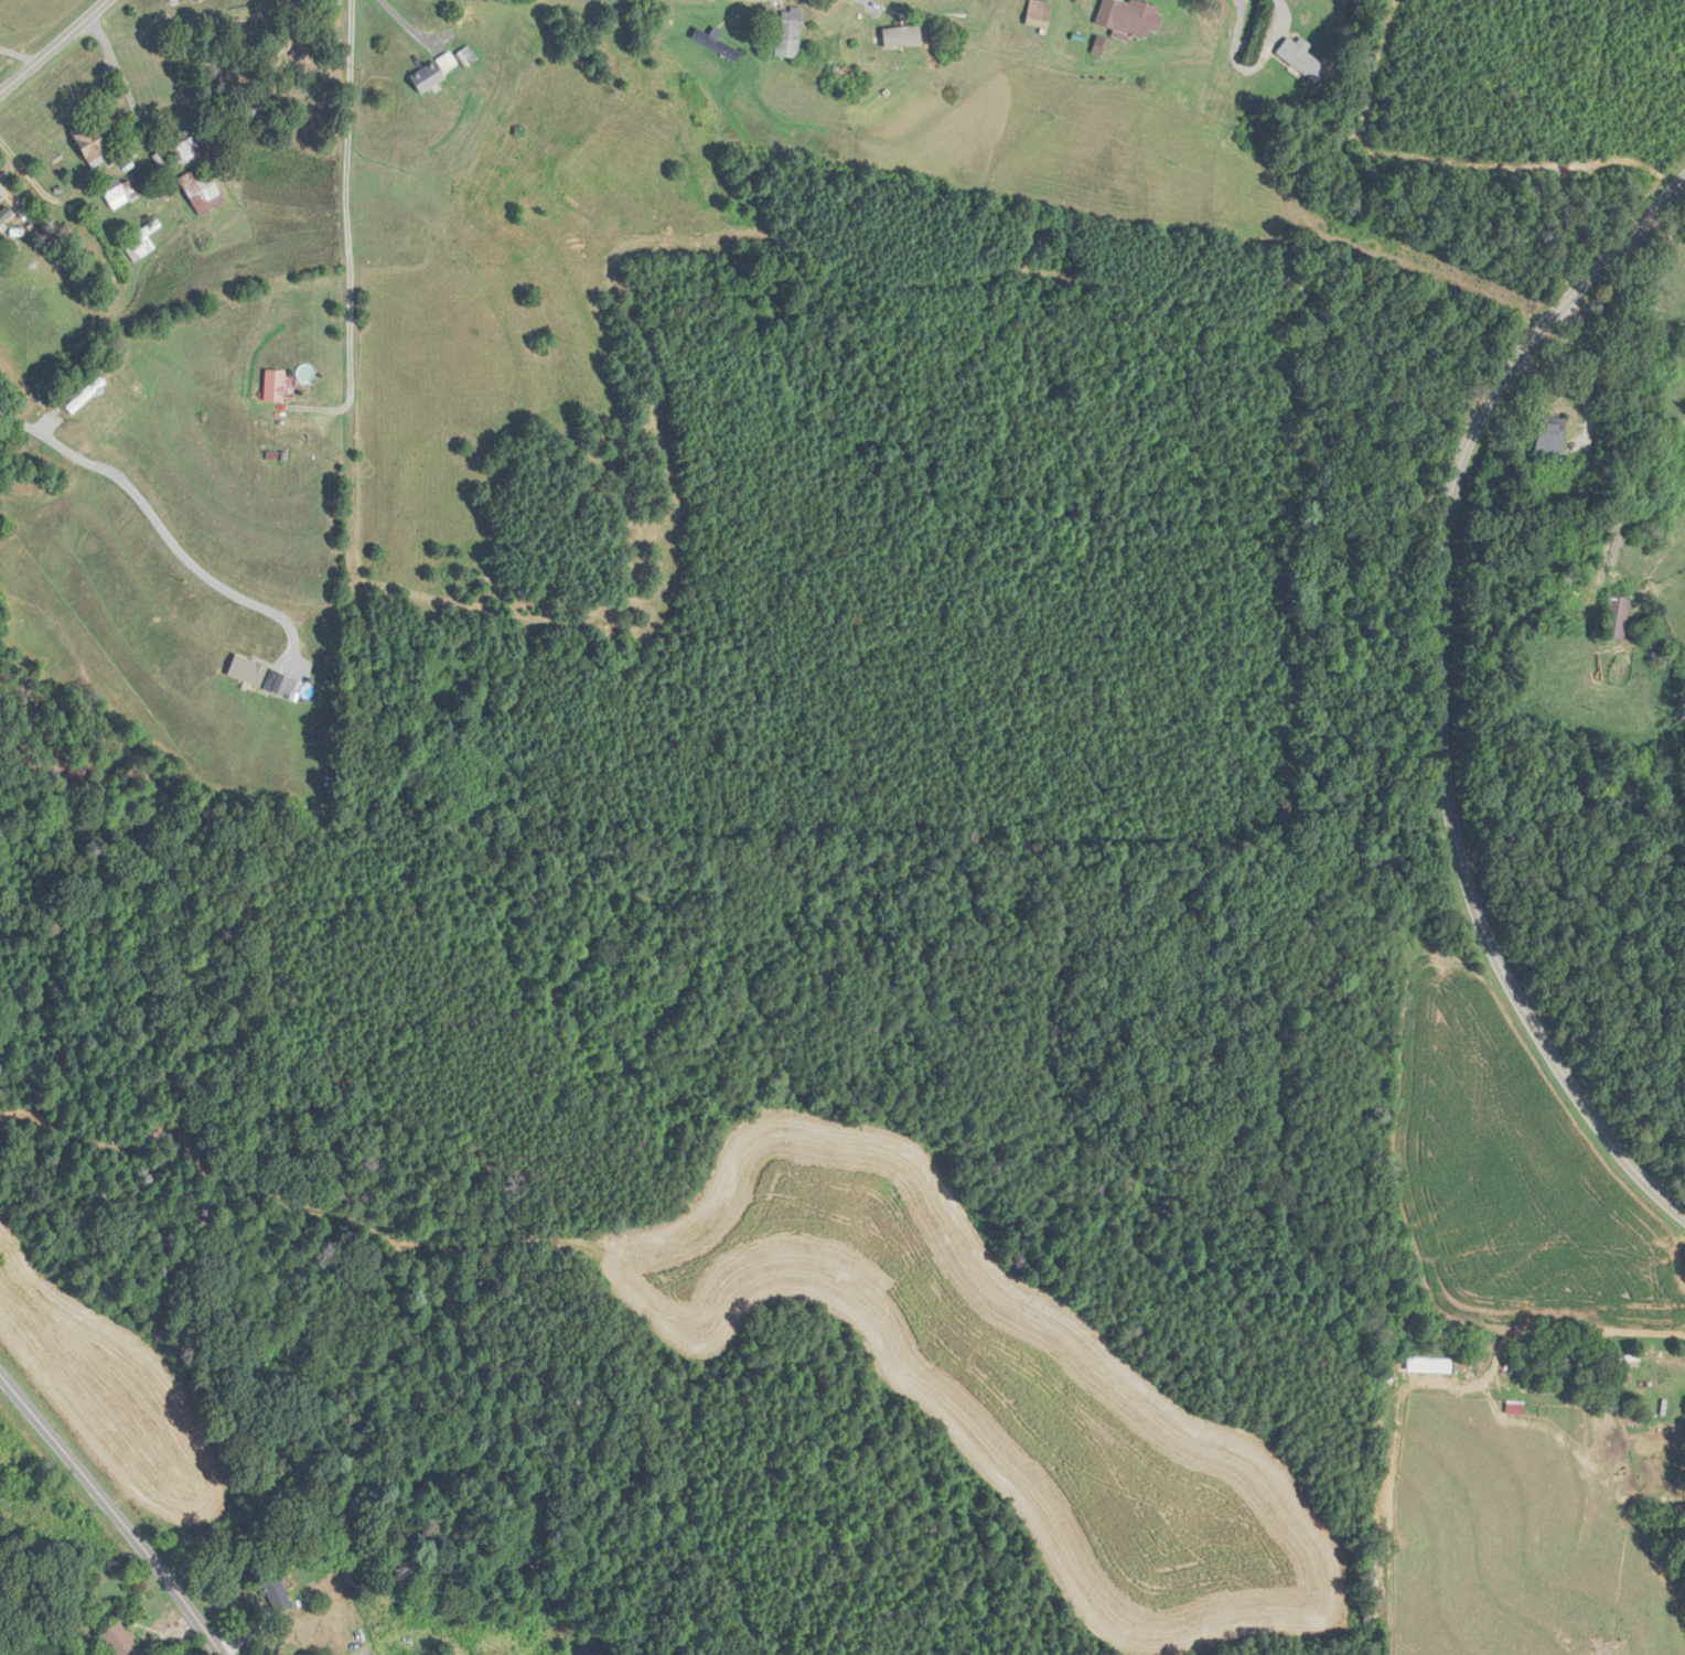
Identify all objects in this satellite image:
road: (882, 7)
building: (1130, 17)
building: (1039, 19)
road: (406, 22)
building: (791, 31)
building: (895, 41)
building: (717, 42)
road: (53, 45)
building: (286, 49)
road: (19, 53)
building: (468, 55)
building: (1302, 57)
building: (844, 75)
building: (429, 77)
road: (104, 86)
road: (128, 93)
building: (93, 142)
building: (192, 149)
building: (202, 190)
road: (58, 201)
building: (6, 214)
road: (348, 214)
building: (1, 236)
building: (142, 241)
building: (275, 385)
building: (87, 395)
building: (1553, 434)
road: (159, 525)
building: (1617, 616)
road: (1440, 691)
road: (112, 1511)
building: (276, 1589)
building: (124, 1640)

